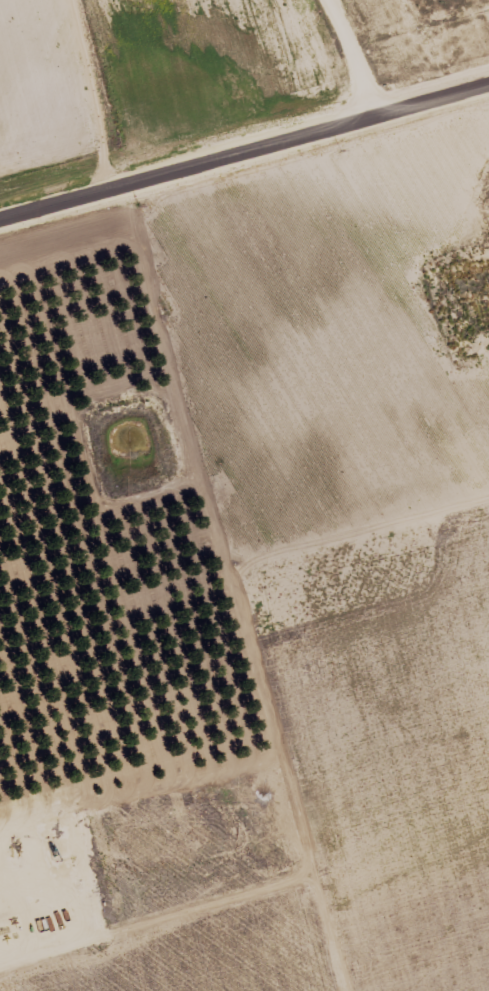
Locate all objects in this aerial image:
road: (354, 57)
road: (241, 167)
road: (210, 606)

